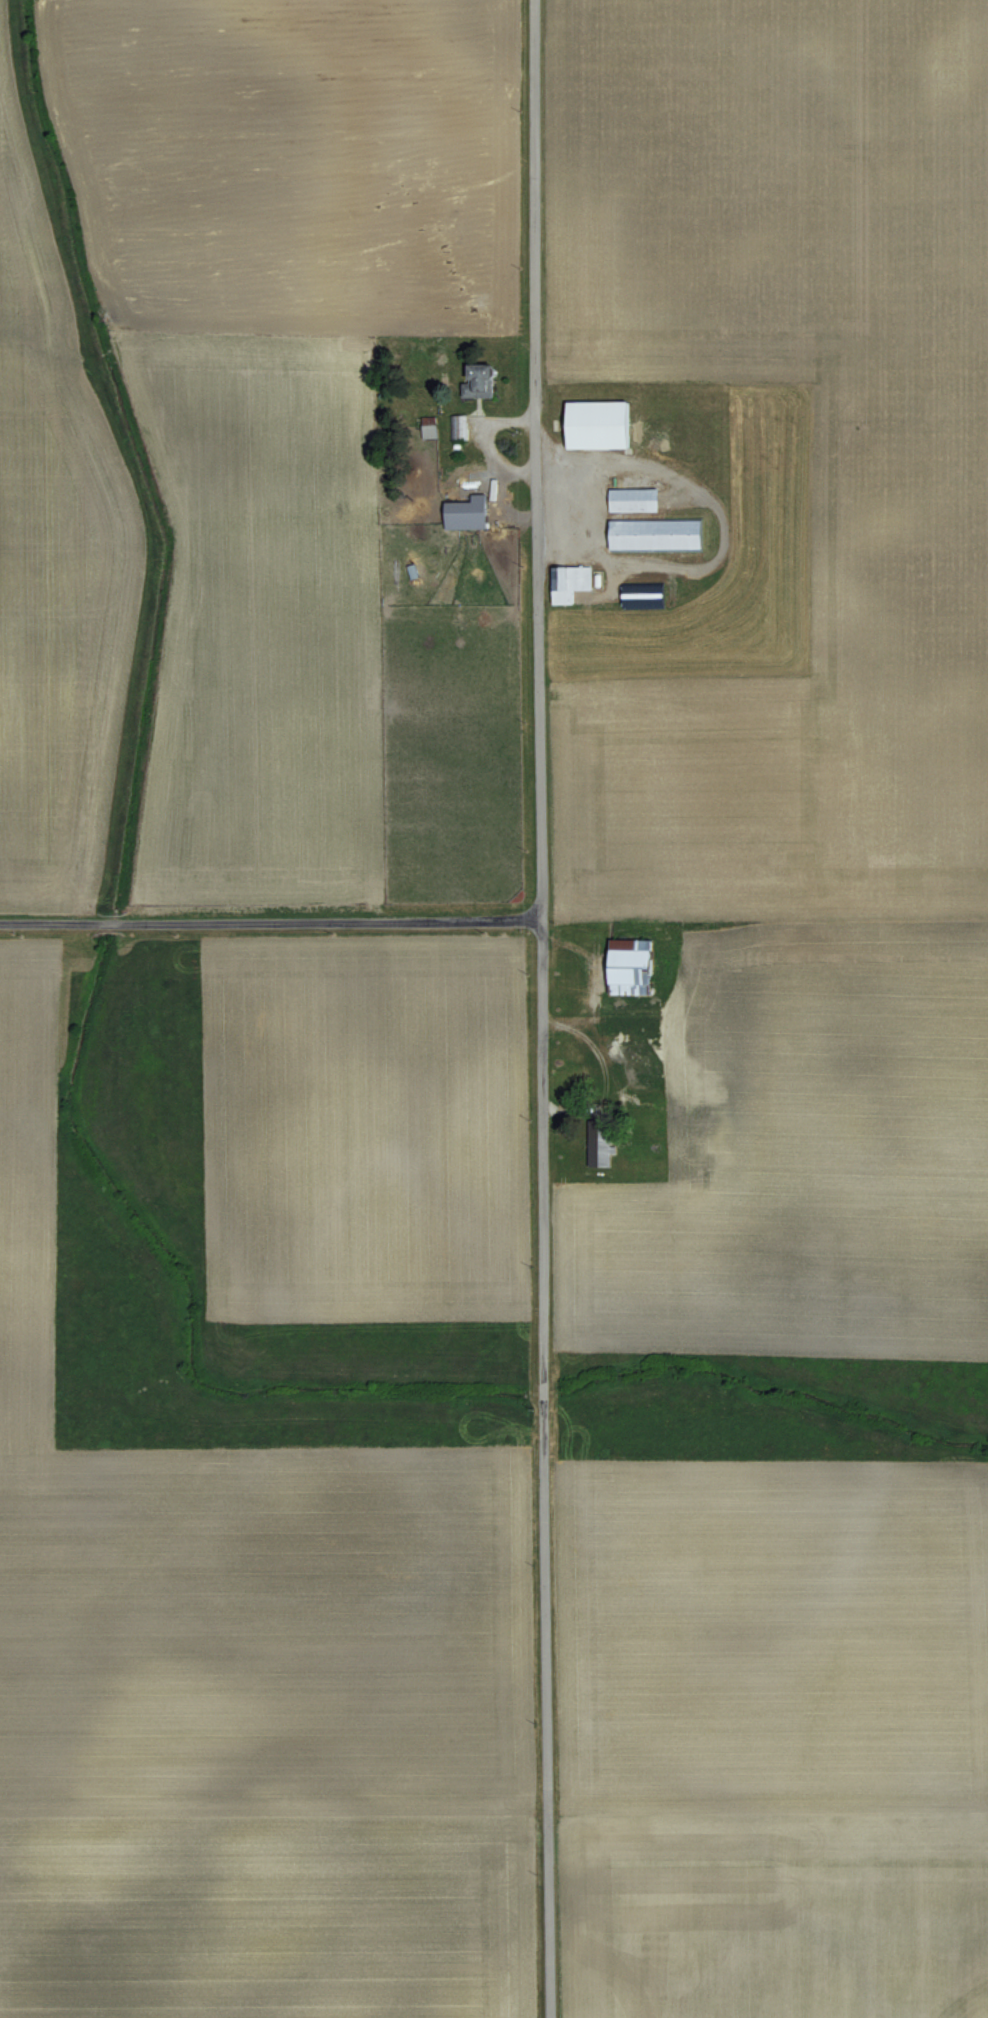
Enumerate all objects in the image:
road: (534, 470)
road: (268, 918)
road: (536, 1008)

